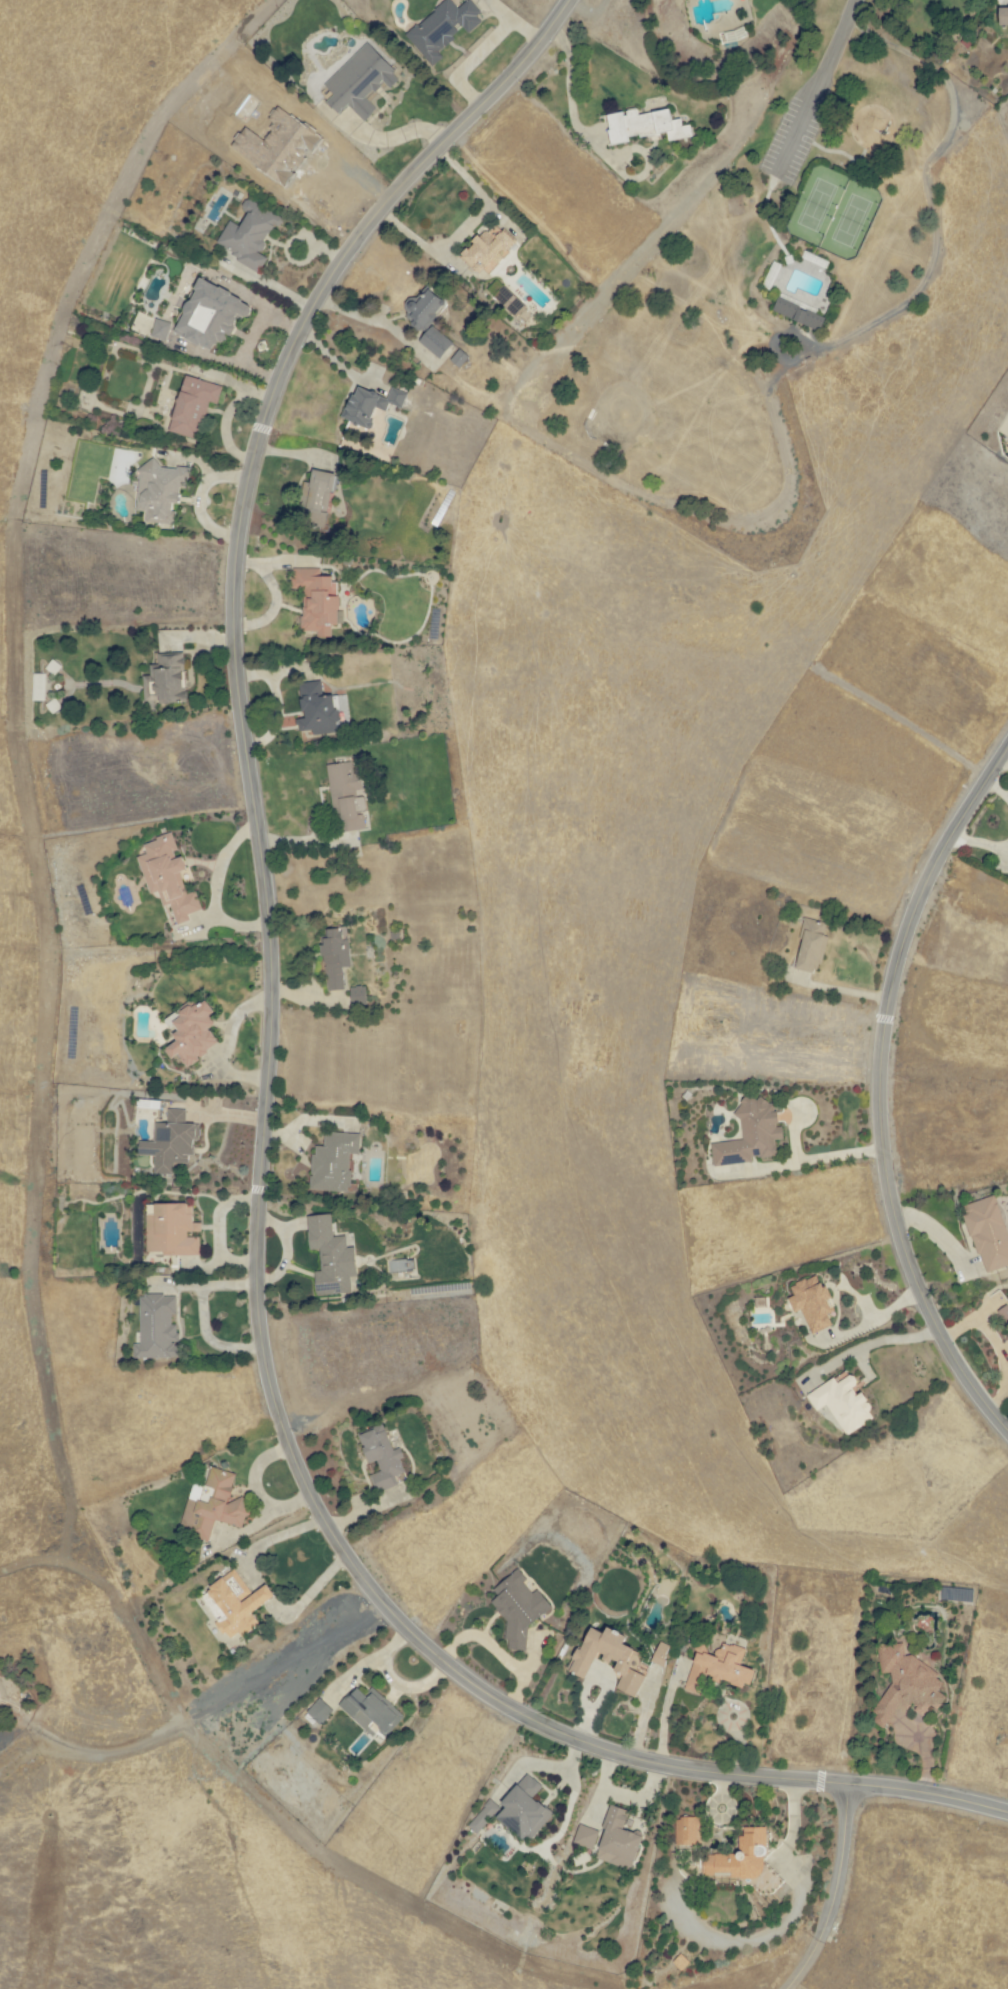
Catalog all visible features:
building: (1003, 15)
building: (442, 28)
building: (359, 81)
road: (816, 89)
building: (644, 125)
building: (249, 234)
building: (488, 248)
building: (422, 309)
building: (798, 313)
building: (210, 314)
building: (160, 329)
building: (434, 342)
building: (459, 358)
building: (192, 405)
building: (369, 405)
building: (159, 491)
building: (317, 494)
building: (316, 600)
building: (165, 680)
building: (320, 709)
road: (249, 777)
building: (346, 797)
building: (167, 877)
building: (811, 945)
building: (335, 957)
building: (358, 995)
building: (192, 1034)
road: (875, 1090)
building: (751, 1135)
building: (171, 1142)
building: (333, 1161)
road: (802, 1162)
building: (170, 1230)
building: (988, 1233)
building: (330, 1257)
building: (811, 1303)
building: (1004, 1314)
road: (877, 1322)
building: (156, 1327)
road: (867, 1346)
building: (842, 1403)
building: (381, 1456)
building: (211, 1504)
building: (232, 1607)
building: (518, 1608)
building: (660, 1653)
building: (608, 1661)
building: (907, 1691)
building: (319, 1711)
building: (371, 1713)
road: (683, 1771)
building: (523, 1809)
building: (483, 1816)
building: (687, 1830)
building: (585, 1836)
building: (617, 1840)
building: (740, 1857)
road: (832, 1892)

